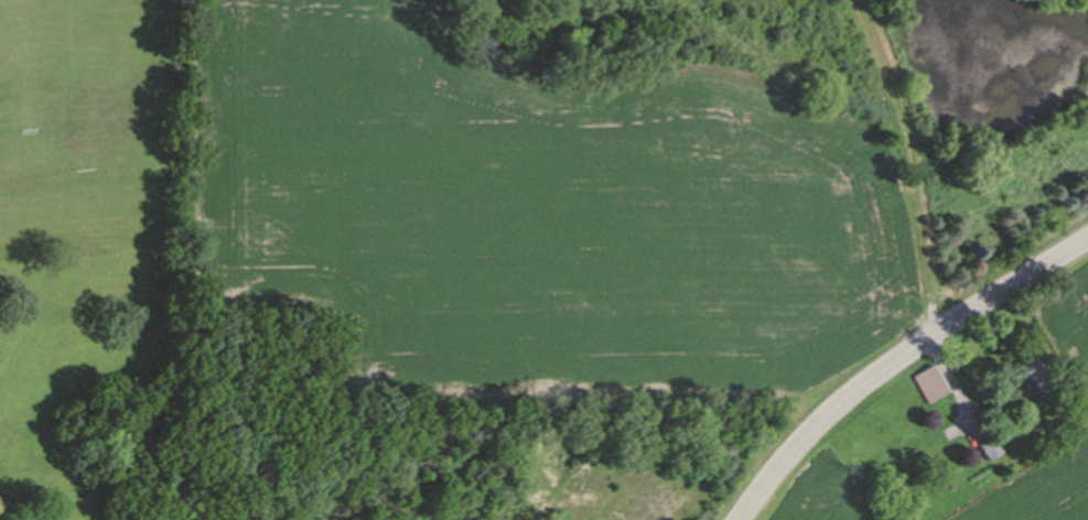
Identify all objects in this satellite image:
park: (77, 116)
park: (94, 260)
road: (901, 364)
crop: (1069, 370)
building: (1033, 378)
building: (926, 382)
building: (983, 445)
crop: (821, 496)

